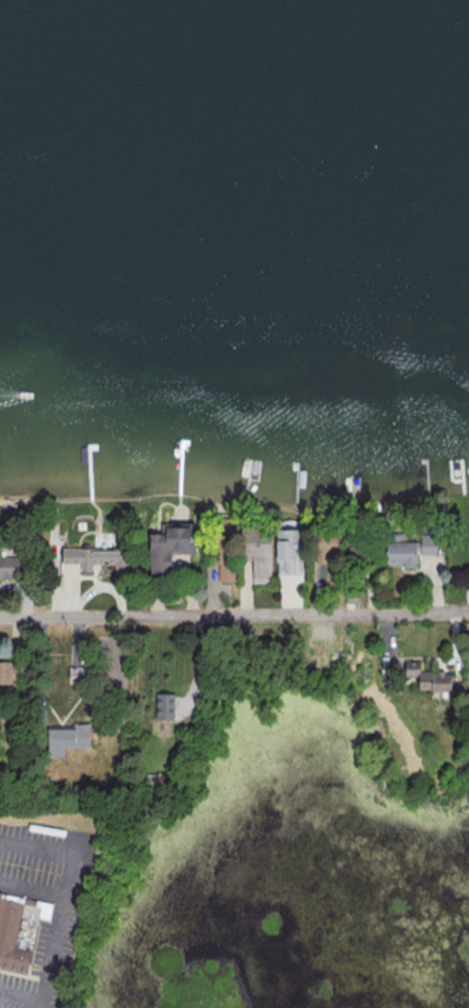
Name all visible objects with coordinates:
building: (458, 546)
building: (167, 547)
building: (225, 550)
building: (255, 550)
building: (288, 551)
building: (409, 551)
building: (357, 553)
building: (324, 555)
building: (95, 559)
building: (13, 568)
road: (234, 616)
building: (12, 672)
building: (468, 672)
building: (427, 679)
building: (163, 706)
building: (66, 738)
road: (64, 893)
building: (17, 934)
road: (20, 994)

